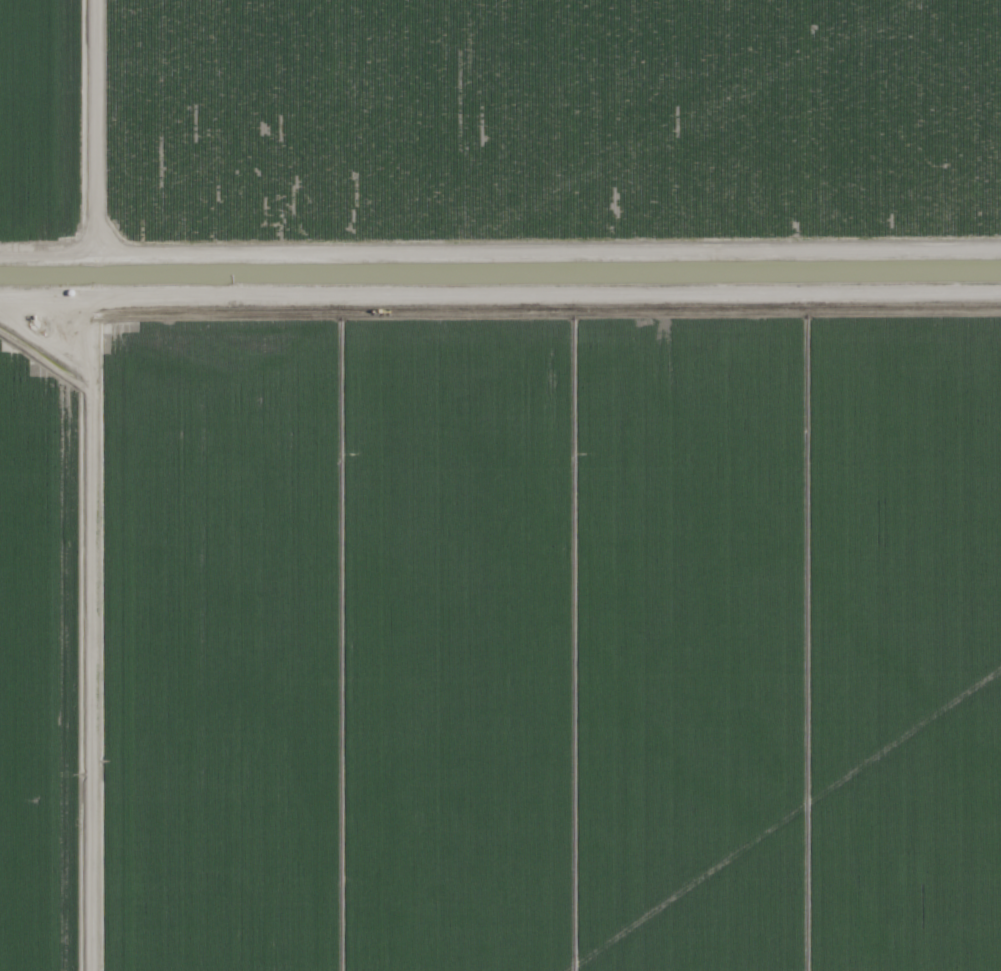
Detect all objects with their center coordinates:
road: (88, 126)
road: (500, 254)
road: (500, 295)
road: (82, 640)

